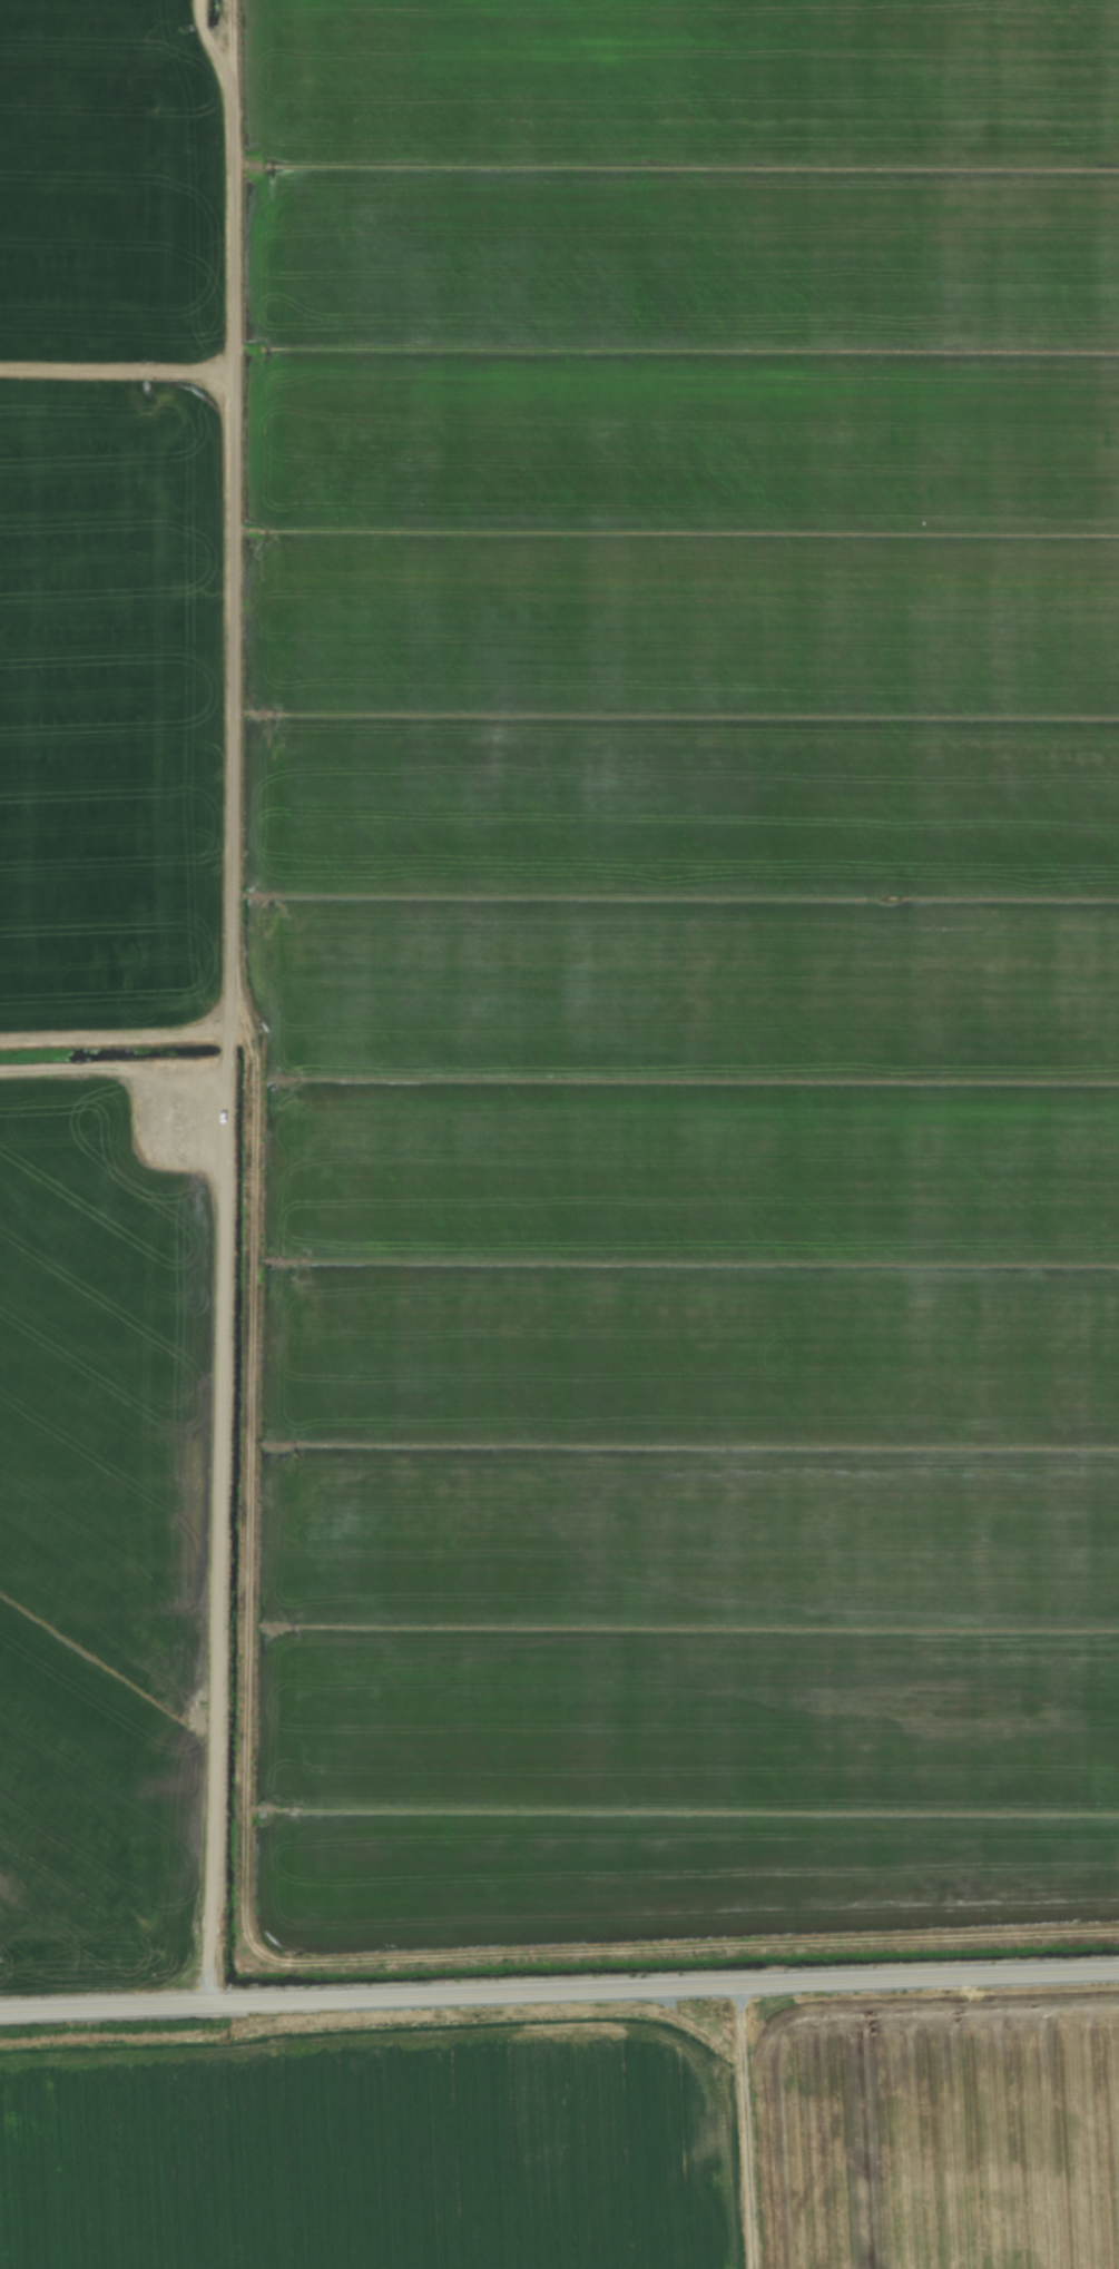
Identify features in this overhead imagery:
road: (559, 1991)

